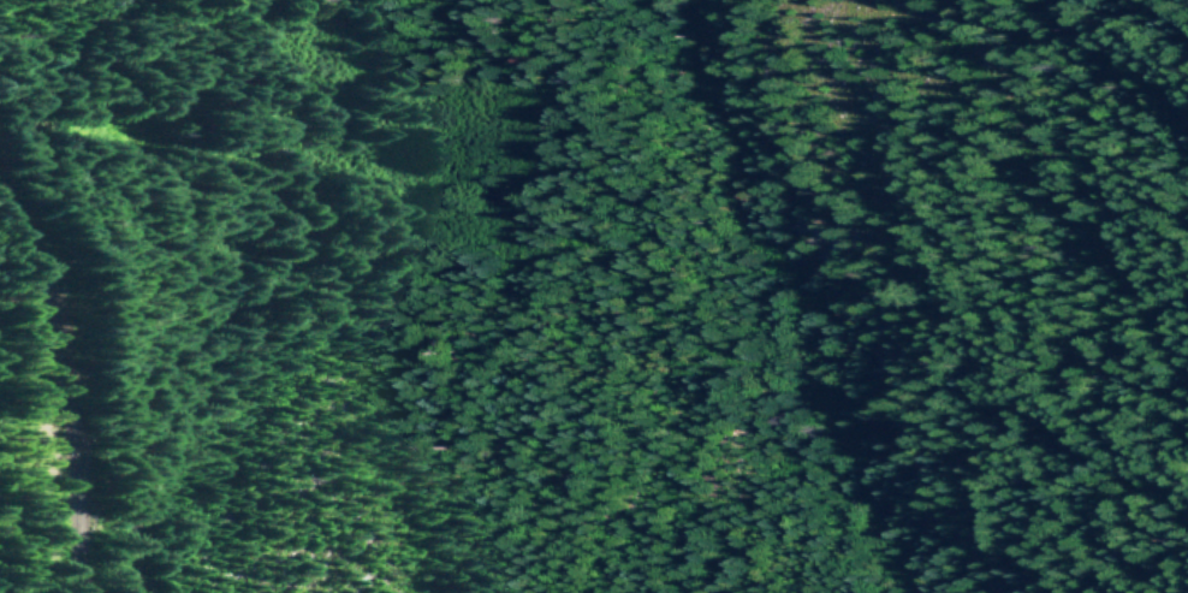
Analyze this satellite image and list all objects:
road: (53, 416)

